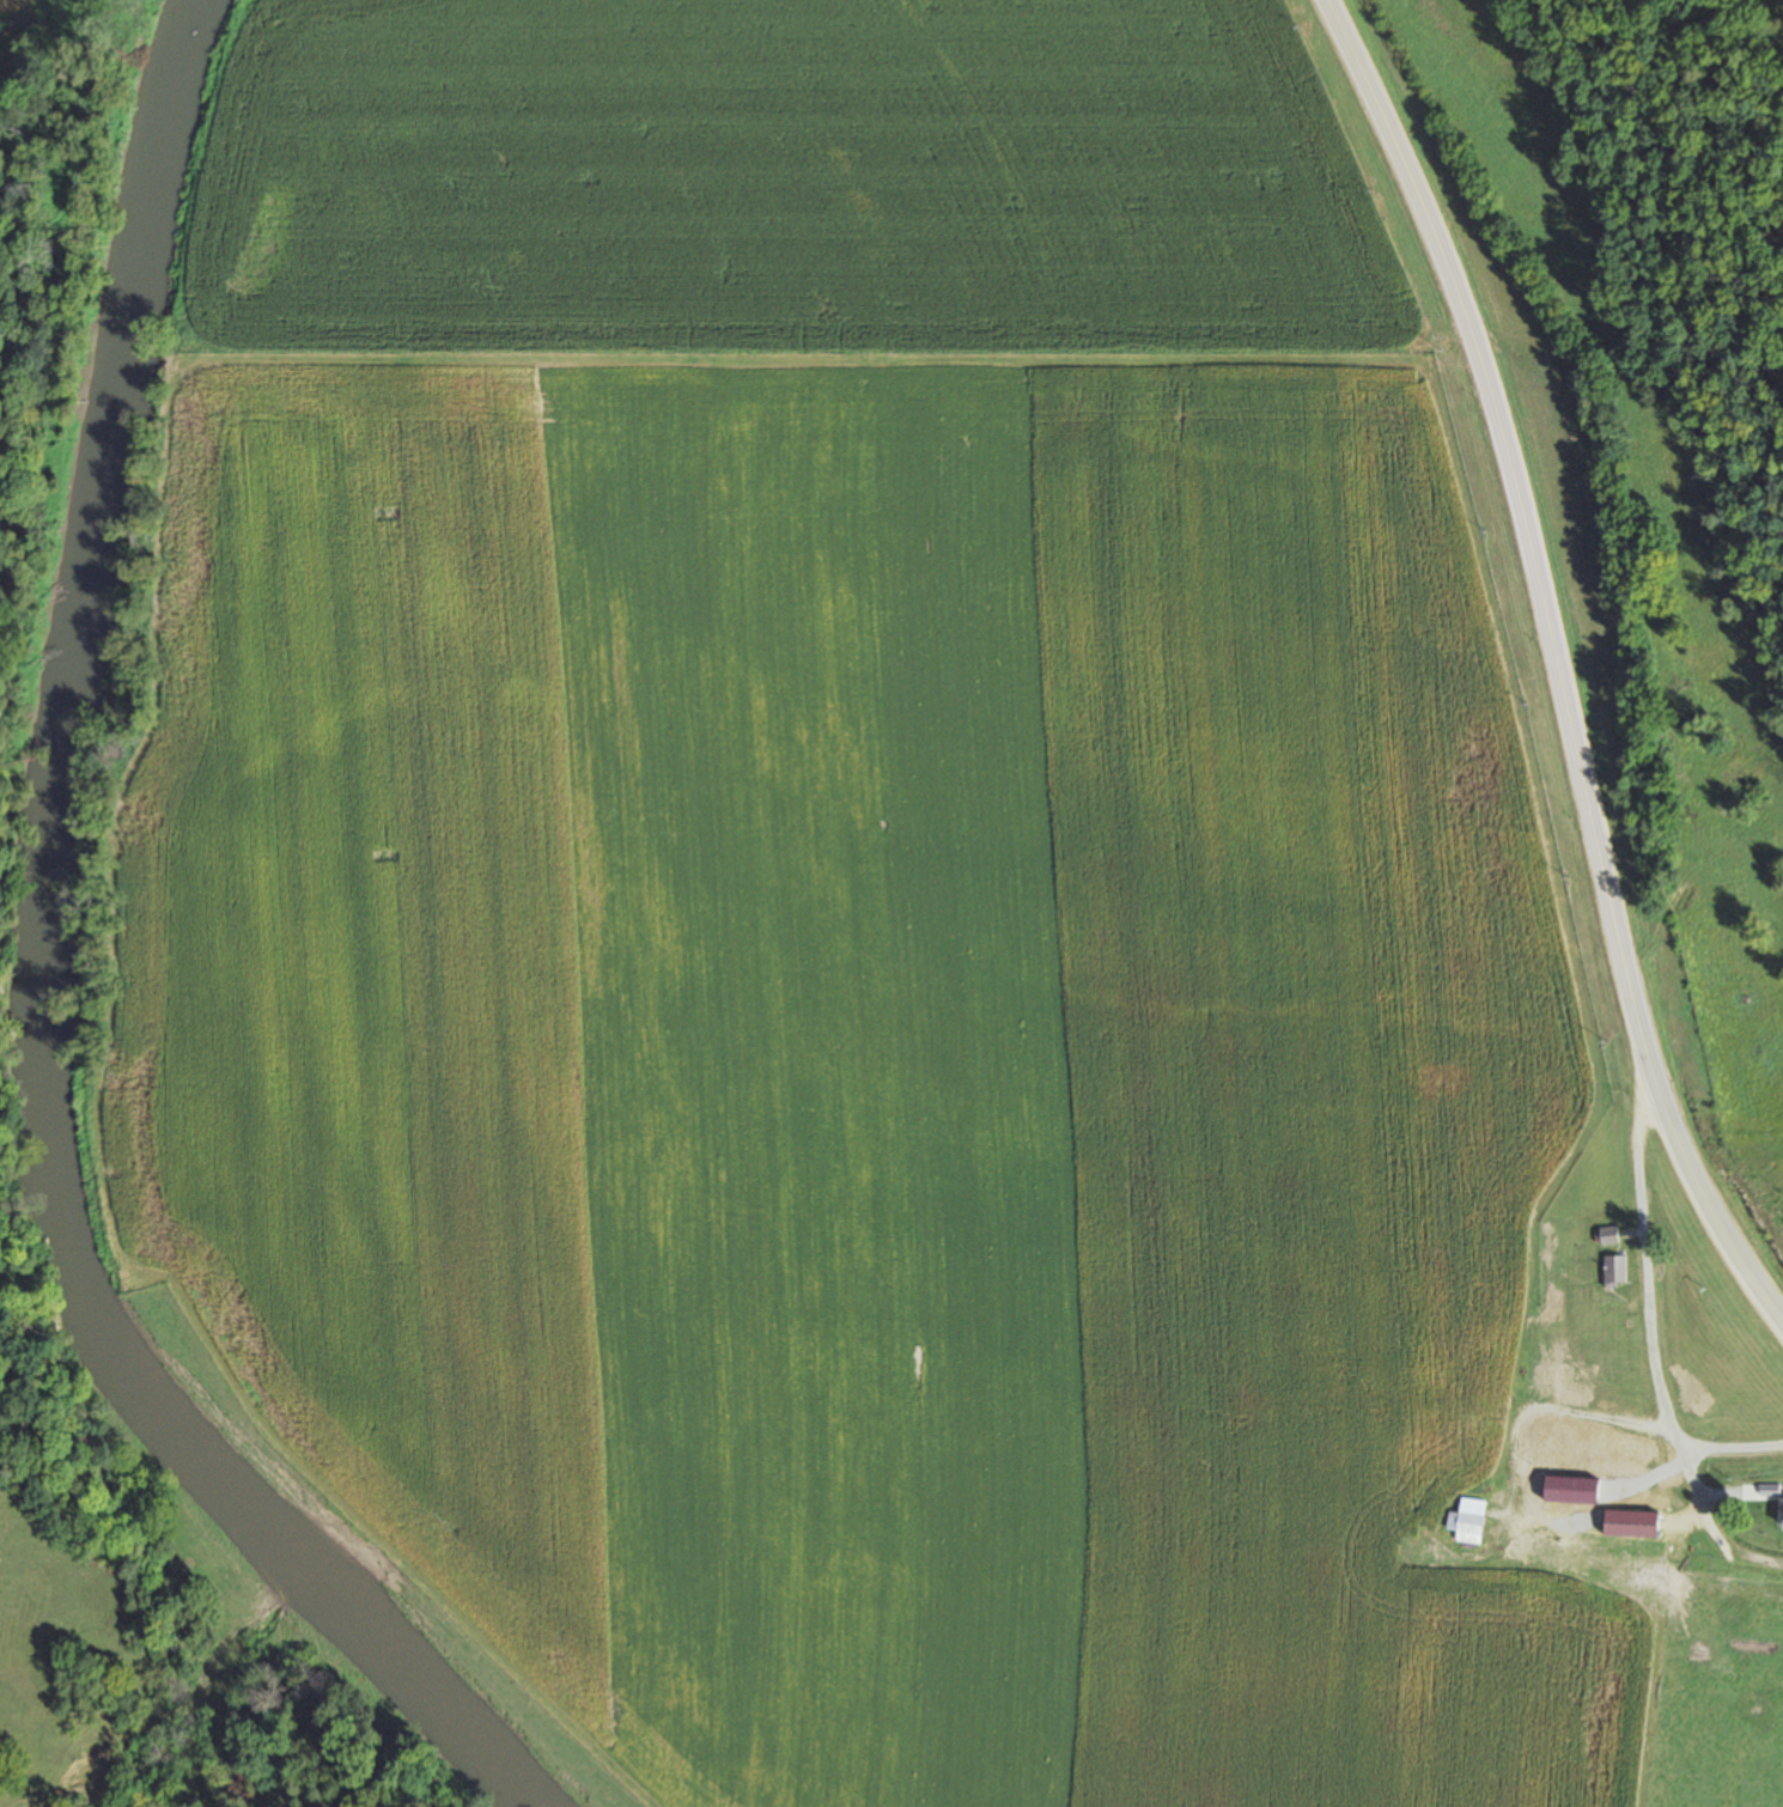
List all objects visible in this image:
road: (1553, 664)
river: (18, 980)
building: (1605, 1234)
building: (1612, 1270)
building: (1552, 1308)
road: (1647, 1319)
building: (1554, 1376)
road: (1534, 1405)
building: (1606, 1480)
building: (1777, 1509)
building: (1463, 1520)
building: (1570, 1533)
building: (1564, 1559)

